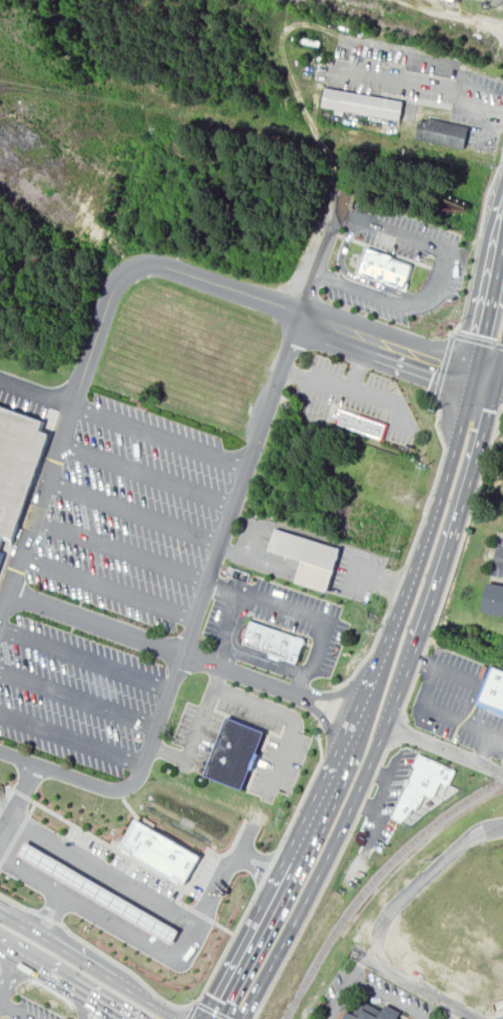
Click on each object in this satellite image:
building: (479, 1)
building: (307, 36)
road: (423, 61)
road: (428, 88)
building: (363, 102)
road: (494, 115)
building: (444, 126)
road: (426, 239)
road: (142, 264)
building: (382, 266)
road: (489, 307)
traffic signals: (483, 335)
road: (386, 343)
traffic signals: (436, 361)
road: (499, 368)
road: (485, 378)
road: (499, 382)
road: (357, 385)
traffic signals: (487, 419)
building: (360, 422)
road: (158, 436)
building: (14, 455)
road: (145, 473)
road: (35, 507)
road: (131, 512)
road: (456, 521)
road: (432, 522)
road: (119, 547)
building: (307, 557)
road: (372, 572)
road: (107, 581)
road: (224, 583)
building: (494, 598)
road: (193, 613)
road: (151, 642)
building: (277, 643)
road: (84, 655)
road: (223, 657)
road: (422, 662)
road: (308, 676)
road: (217, 677)
road: (300, 684)
building: (492, 689)
road: (334, 693)
road: (78, 695)
road: (367, 695)
road: (240, 698)
road: (419, 707)
road: (325, 722)
road: (72, 733)
road: (478, 747)
road: (444, 748)
building: (236, 752)
building: (423, 783)
road: (18, 802)
road: (333, 841)
building: (162, 851)
road: (260, 864)
road: (109, 867)
road: (283, 872)
railway: (373, 880)
building: (96, 892)
road: (49, 917)
road: (382, 922)
road: (60, 948)
road: (8, 952)
road: (160, 955)
road: (115, 961)
road: (8, 972)
road: (365, 985)
road: (67, 988)
traffic signals: (219, 996)
road: (147, 1002)
road: (14, 1011)
building: (365, 1012)
road: (454, 1012)

